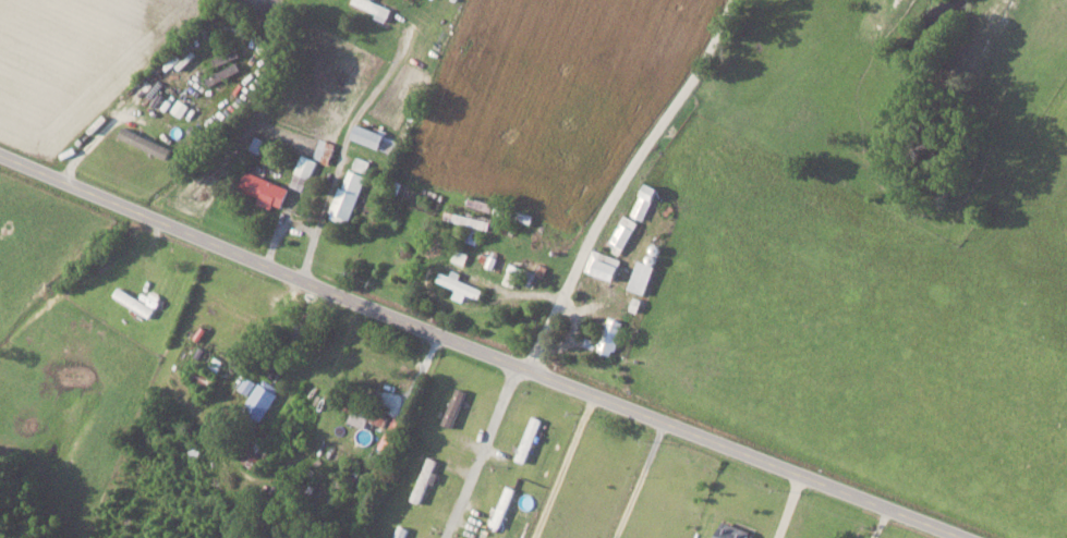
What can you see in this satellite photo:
building: (376, 8)
road: (112, 119)
building: (376, 137)
building: (146, 142)
building: (325, 149)
road: (343, 149)
building: (303, 171)
road: (621, 181)
building: (266, 188)
building: (542, 196)
building: (348, 197)
building: (645, 200)
road: (280, 224)
building: (623, 233)
building: (604, 264)
building: (643, 277)
building: (460, 284)
building: (611, 334)
road: (483, 351)
building: (205, 378)
building: (248, 384)
building: (263, 399)
building: (454, 406)
building: (365, 414)
building: (398, 423)
building: (390, 441)
road: (481, 451)
building: (255, 457)
building: (425, 478)
road: (640, 479)
road: (789, 505)
building: (733, 531)

